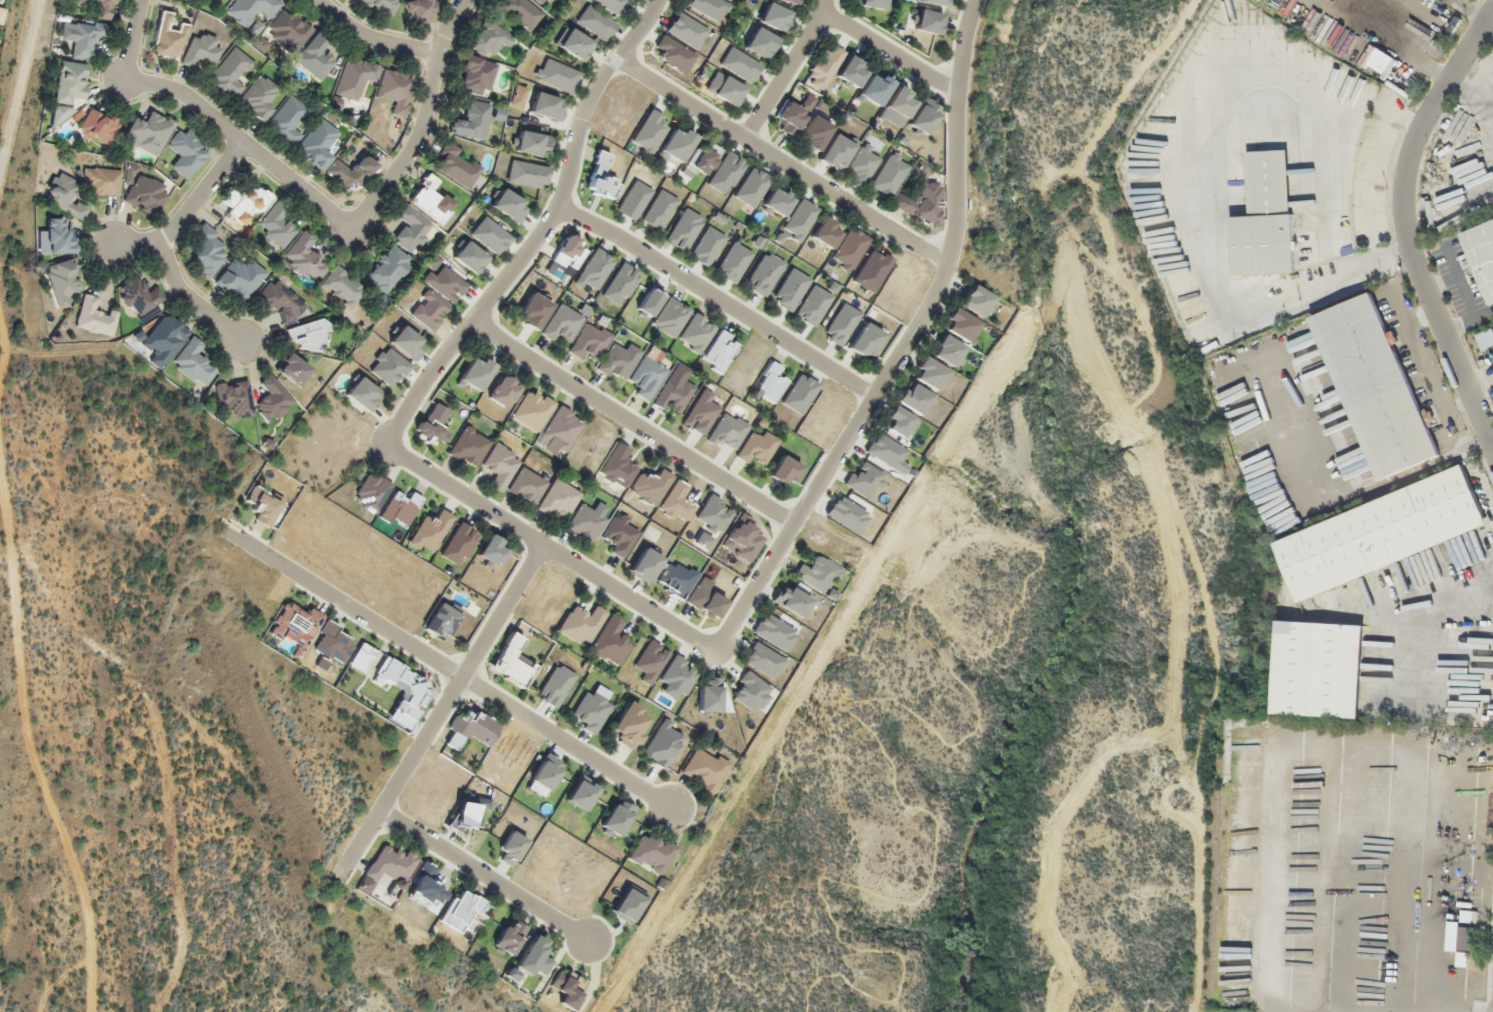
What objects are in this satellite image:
building: (227, 0)
building: (791, 1)
building: (543, 2)
building: (935, 2)
building: (870, 3)
building: (381, 5)
building: (613, 5)
building: (100, 8)
building: (420, 8)
building: (710, 8)
building: (252, 10)
building: (521, 12)
building: (0, 17)
building: (774, 17)
building: (926, 22)
building: (596, 23)
building: (687, 30)
building: (288, 31)
road: (373, 37)
building: (84, 38)
road: (131, 38)
building: (168, 38)
building: (487, 38)
building: (759, 43)
building: (574, 44)
building: (200, 50)
road: (888, 52)
building: (675, 54)
building: (314, 58)
building: (740, 64)
building: (824, 66)
road: (786, 69)
building: (851, 71)
building: (229, 73)
building: (477, 75)
building: (556, 75)
building: (355, 77)
building: (70, 82)
building: (724, 88)
building: (875, 88)
building: (395, 90)
building: (258, 98)
building: (900, 103)
building: (547, 106)
building: (793, 115)
building: (923, 116)
building: (287, 120)
road: (423, 120)
building: (471, 120)
building: (99, 127)
building: (814, 132)
building: (148, 133)
building: (650, 133)
road: (245, 140)
building: (317, 143)
building: (531, 143)
building: (676, 144)
building: (836, 151)
building: (186, 152)
building: (701, 160)
road: (782, 161)
building: (863, 164)
building: (456, 166)
building: (350, 173)
building: (726, 173)
building: (528, 174)
building: (889, 174)
building: (601, 179)
building: (102, 181)
building: (752, 187)
road: (204, 192)
building: (146, 195)
building: (65, 196)
building: (634, 200)
building: (432, 202)
building: (247, 203)
building: (776, 203)
building: (921, 203)
building: (509, 205)
building: (659, 210)
building: (1443, 214)
building: (1265, 218)
building: (800, 219)
road: (1406, 223)
building: (276, 225)
building: (411, 228)
building: (684, 229)
building: (825, 232)
building: (491, 236)
building: (59, 237)
road: (136, 243)
building: (707, 246)
building: (849, 249)
building: (207, 251)
building: (569, 253)
building: (1481, 253)
building: (305, 257)
building: (470, 257)
building: (733, 262)
building: (387, 269)
building: (594, 270)
building: (872, 270)
building: (764, 273)
building: (240, 278)
building: (63, 281)
building: (446, 284)
building: (621, 284)
building: (342, 287)
building: (790, 289)
building: (140, 296)
road: (716, 298)
road: (189, 299)
building: (976, 300)
building: (280, 301)
building: (812, 305)
building: (430, 311)
building: (534, 311)
building: (95, 317)
building: (670, 317)
building: (562, 323)
building: (841, 324)
building: (959, 324)
building: (696, 333)
building: (307, 336)
building: (166, 339)
building: (1485, 339)
building: (865, 340)
building: (590, 341)
building: (408, 343)
building: (720, 351)
building: (947, 351)
building: (618, 361)
building: (194, 362)
building: (389, 367)
building: (292, 369)
building: (477, 373)
building: (929, 373)
building: (647, 377)
building: (770, 383)
building: (1375, 386)
building: (504, 391)
building: (362, 393)
building: (800, 393)
building: (674, 396)
building: (234, 398)
building: (913, 398)
building: (272, 400)
building: (533, 409)
building: (702, 412)
building: (898, 423)
road: (633, 424)
building: (435, 425)
building: (560, 431)
building: (470, 447)
building: (757, 447)
building: (884, 451)
building: (500, 465)
building: (618, 466)
building: (784, 471)
building: (864, 480)
building: (527, 486)
building: (650, 486)
building: (372, 492)
building: (558, 498)
building: (677, 503)
building: (401, 509)
building: (713, 514)
building: (847, 514)
building: (586, 522)
building: (430, 531)
building: (1381, 533)
building: (741, 538)
building: (459, 544)
building: (493, 552)
building: (645, 565)
building: (817, 574)
road: (630, 597)
building: (791, 600)
building: (443, 619)
building: (581, 624)
building: (774, 632)
building: (611, 641)
building: (763, 660)
building: (513, 662)
road: (446, 668)
building: (1320, 669)
building: (678, 675)
building: (556, 685)
building: (406, 688)
building: (750, 692)
building: (708, 696)
road: (440, 710)
building: (591, 710)
building: (630, 725)
building: (472, 729)
building: (663, 744)
building: (704, 769)
building: (547, 771)
building: (582, 793)
building: (617, 818)
building: (511, 848)
building: (651, 853)
building: (391, 865)
road: (483, 876)
building: (627, 905)
building: (461, 911)
building: (510, 936)
building: (1459, 942)
building: (534, 957)
building: (568, 988)

